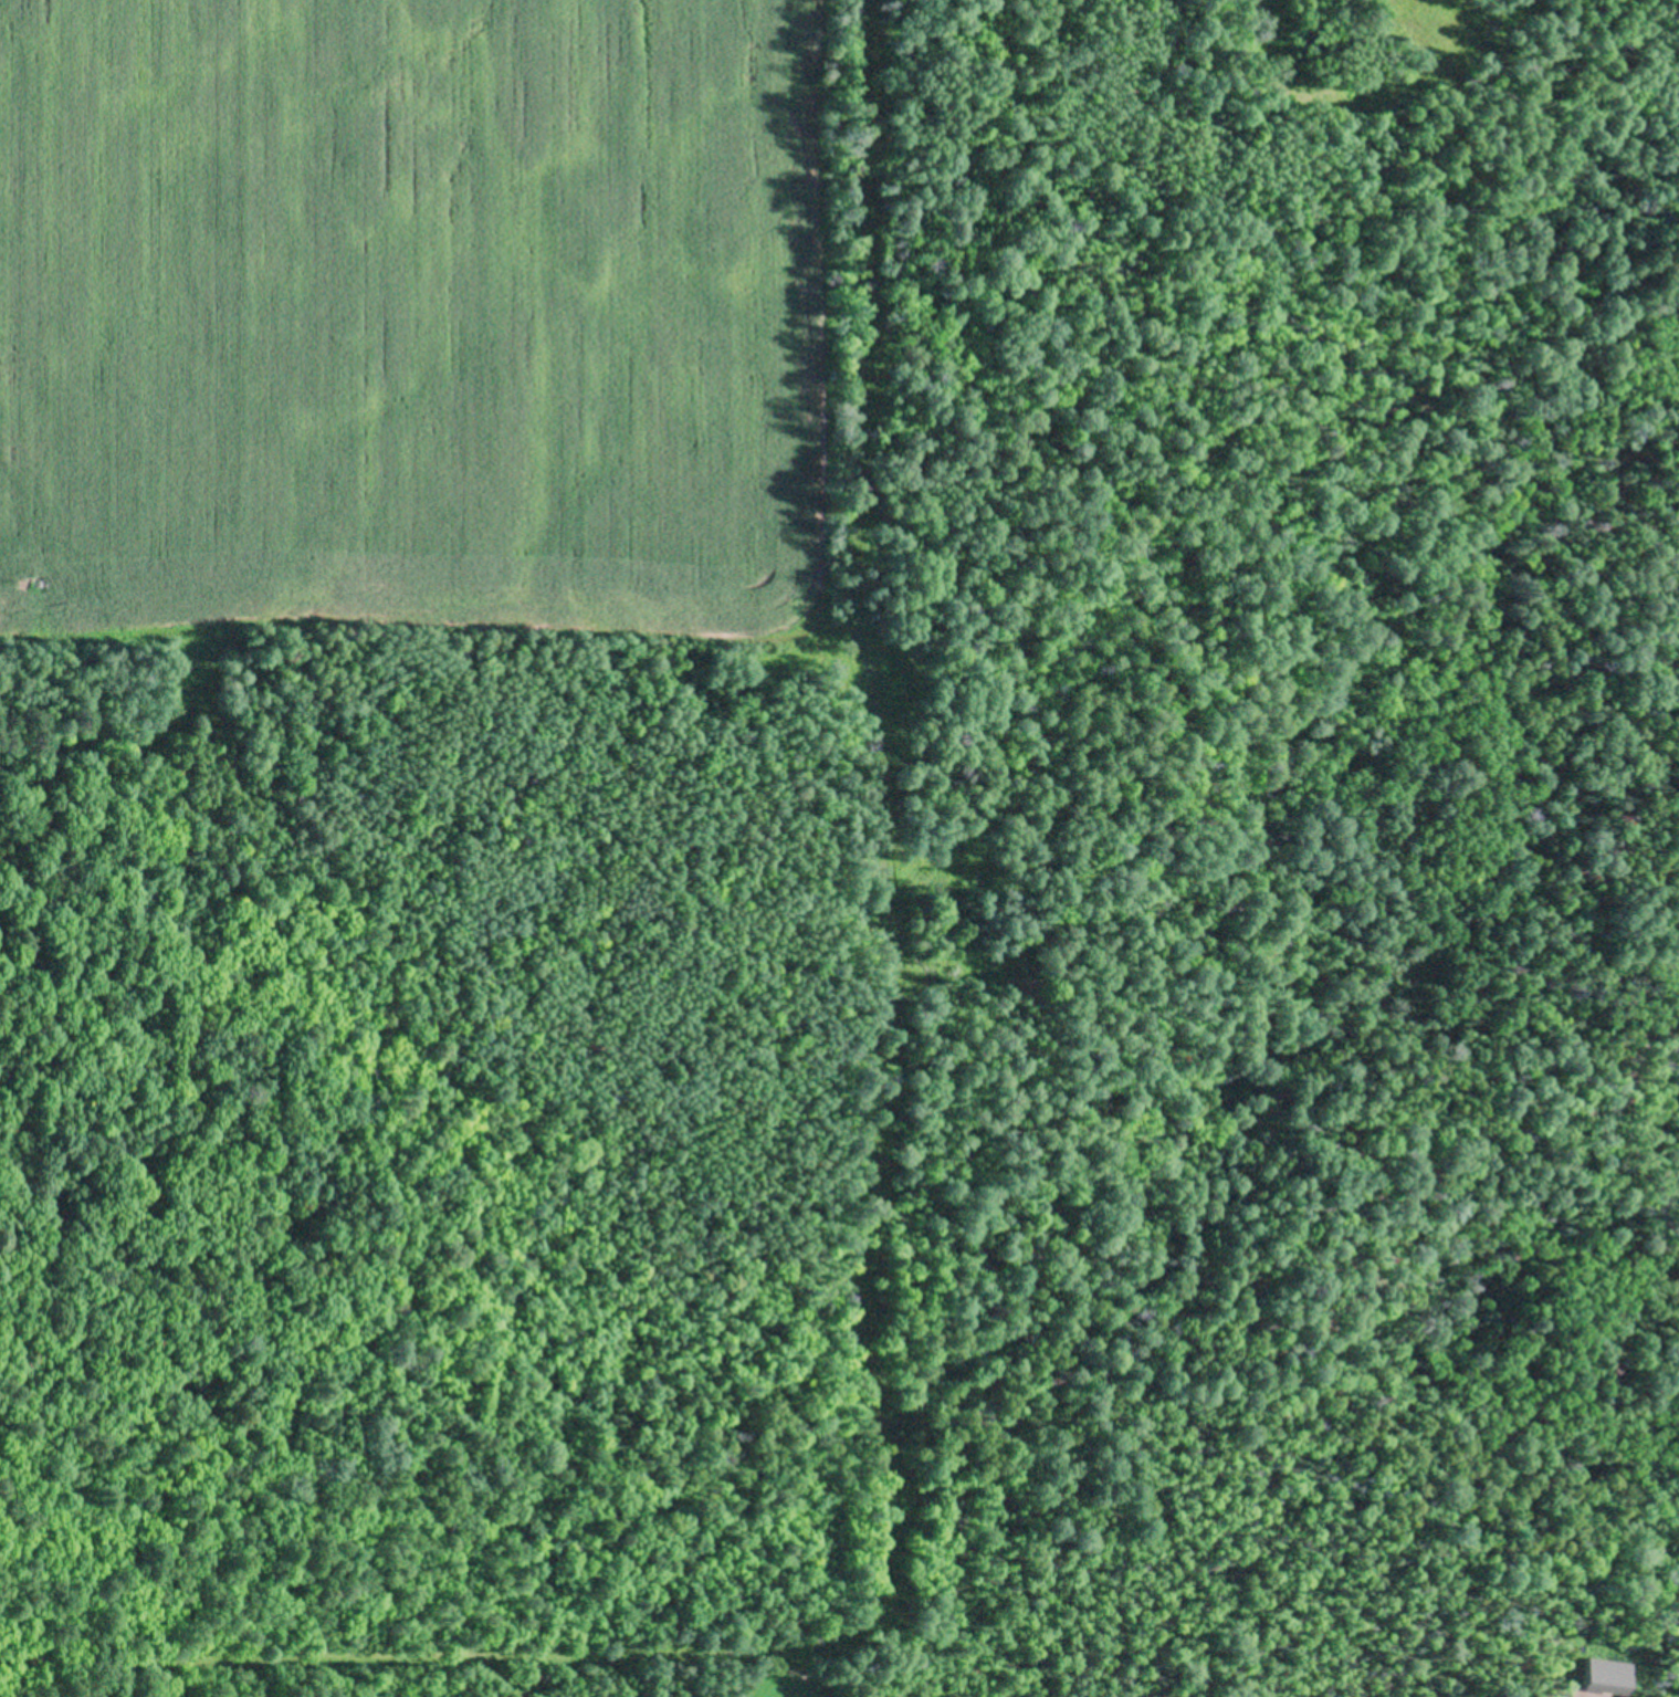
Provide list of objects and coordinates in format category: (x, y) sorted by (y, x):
crop: (418, 317)
building: (1598, 1674)

